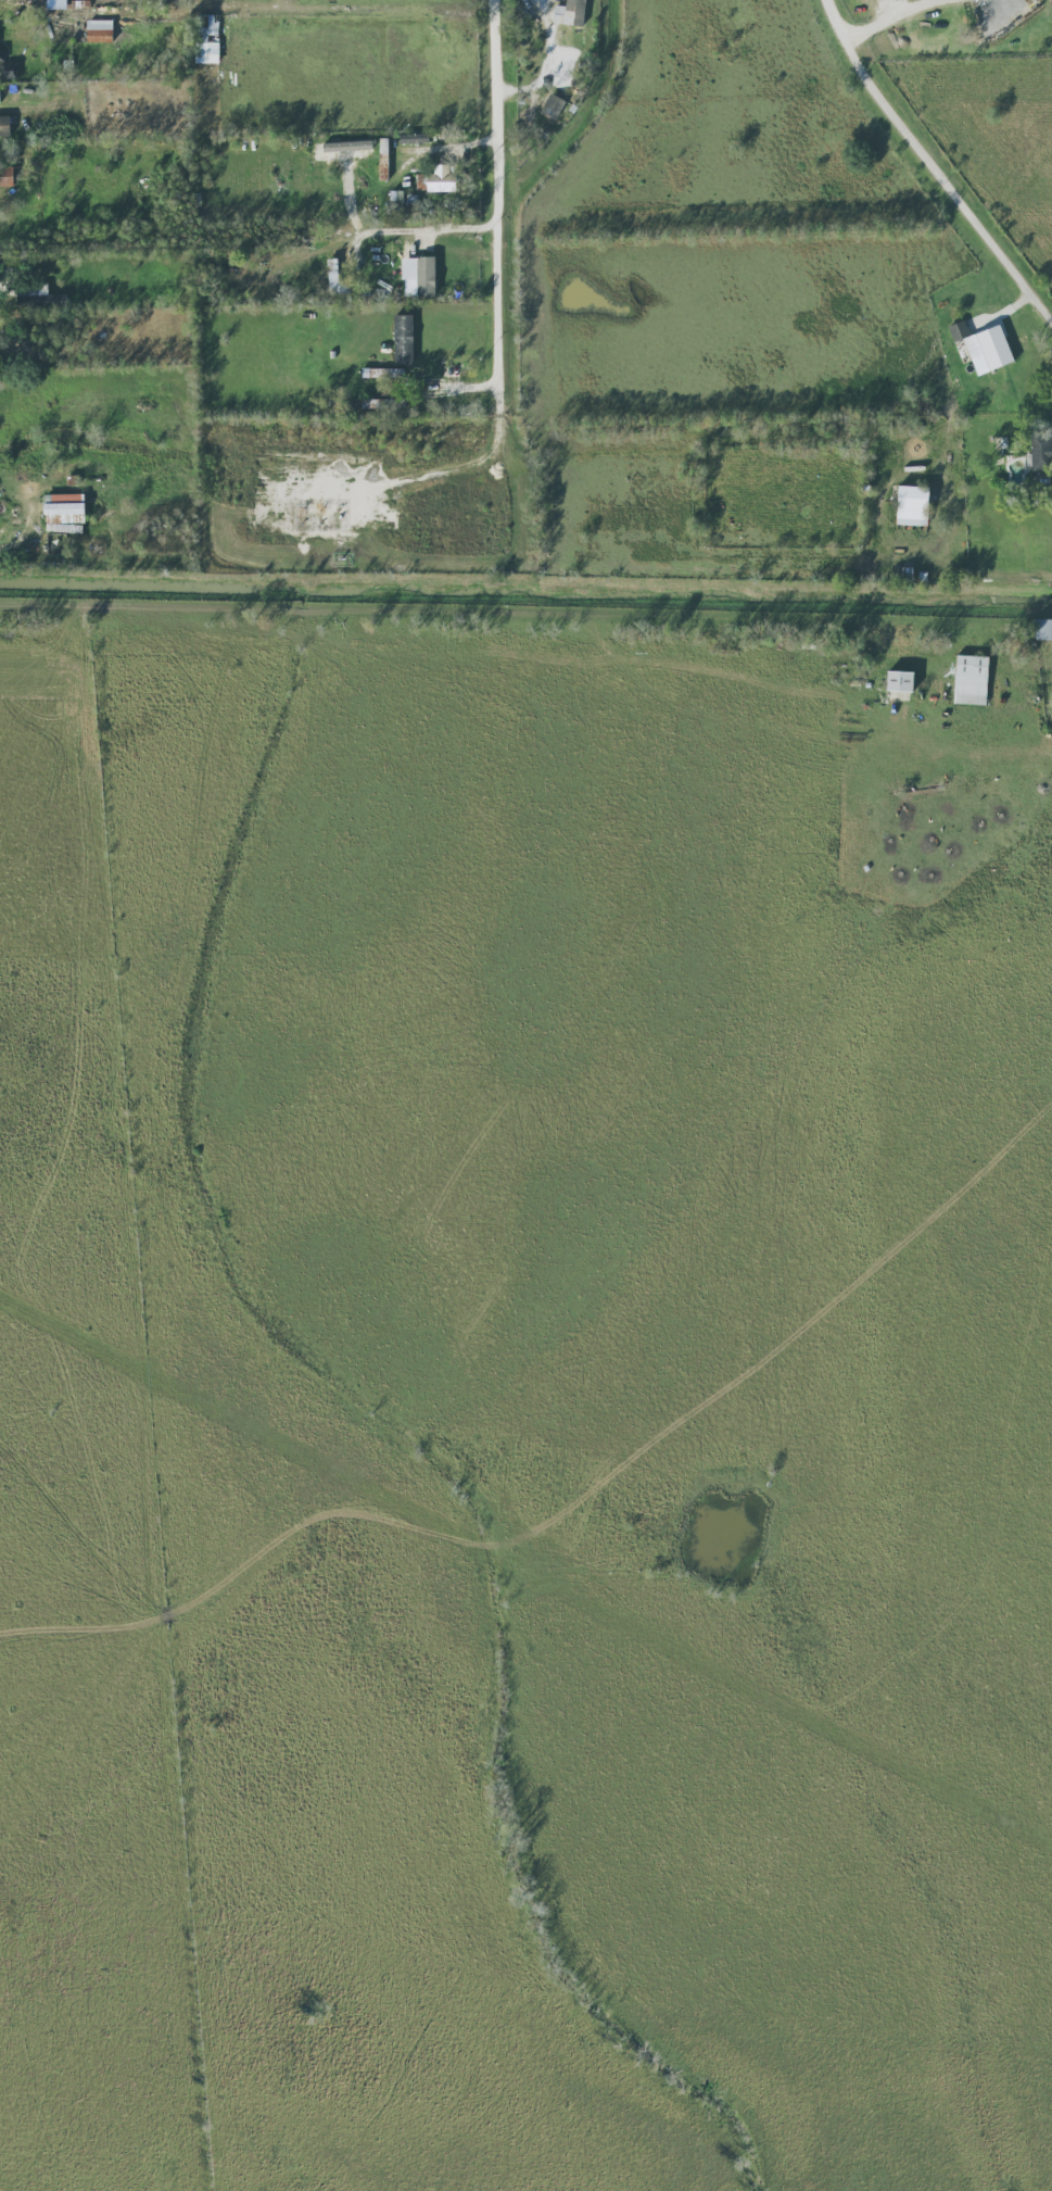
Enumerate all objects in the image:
building: (570, 12)
road: (889, 13)
building: (99, 30)
building: (207, 39)
road: (549, 63)
building: (7, 66)
building: (0, 100)
building: (553, 105)
building: (4, 126)
building: (414, 138)
building: (383, 158)
road: (931, 165)
building: (5, 176)
building: (436, 179)
road: (498, 204)
building: (335, 278)
building: (422, 278)
building: (403, 339)
building: (983, 345)
building: (393, 372)
building: (390, 403)
building: (1041, 450)
building: (912, 505)
building: (64, 507)
road: (17, 536)
building: (56, 543)
road: (996, 568)
building: (1042, 628)
building: (971, 679)
building: (899, 681)

